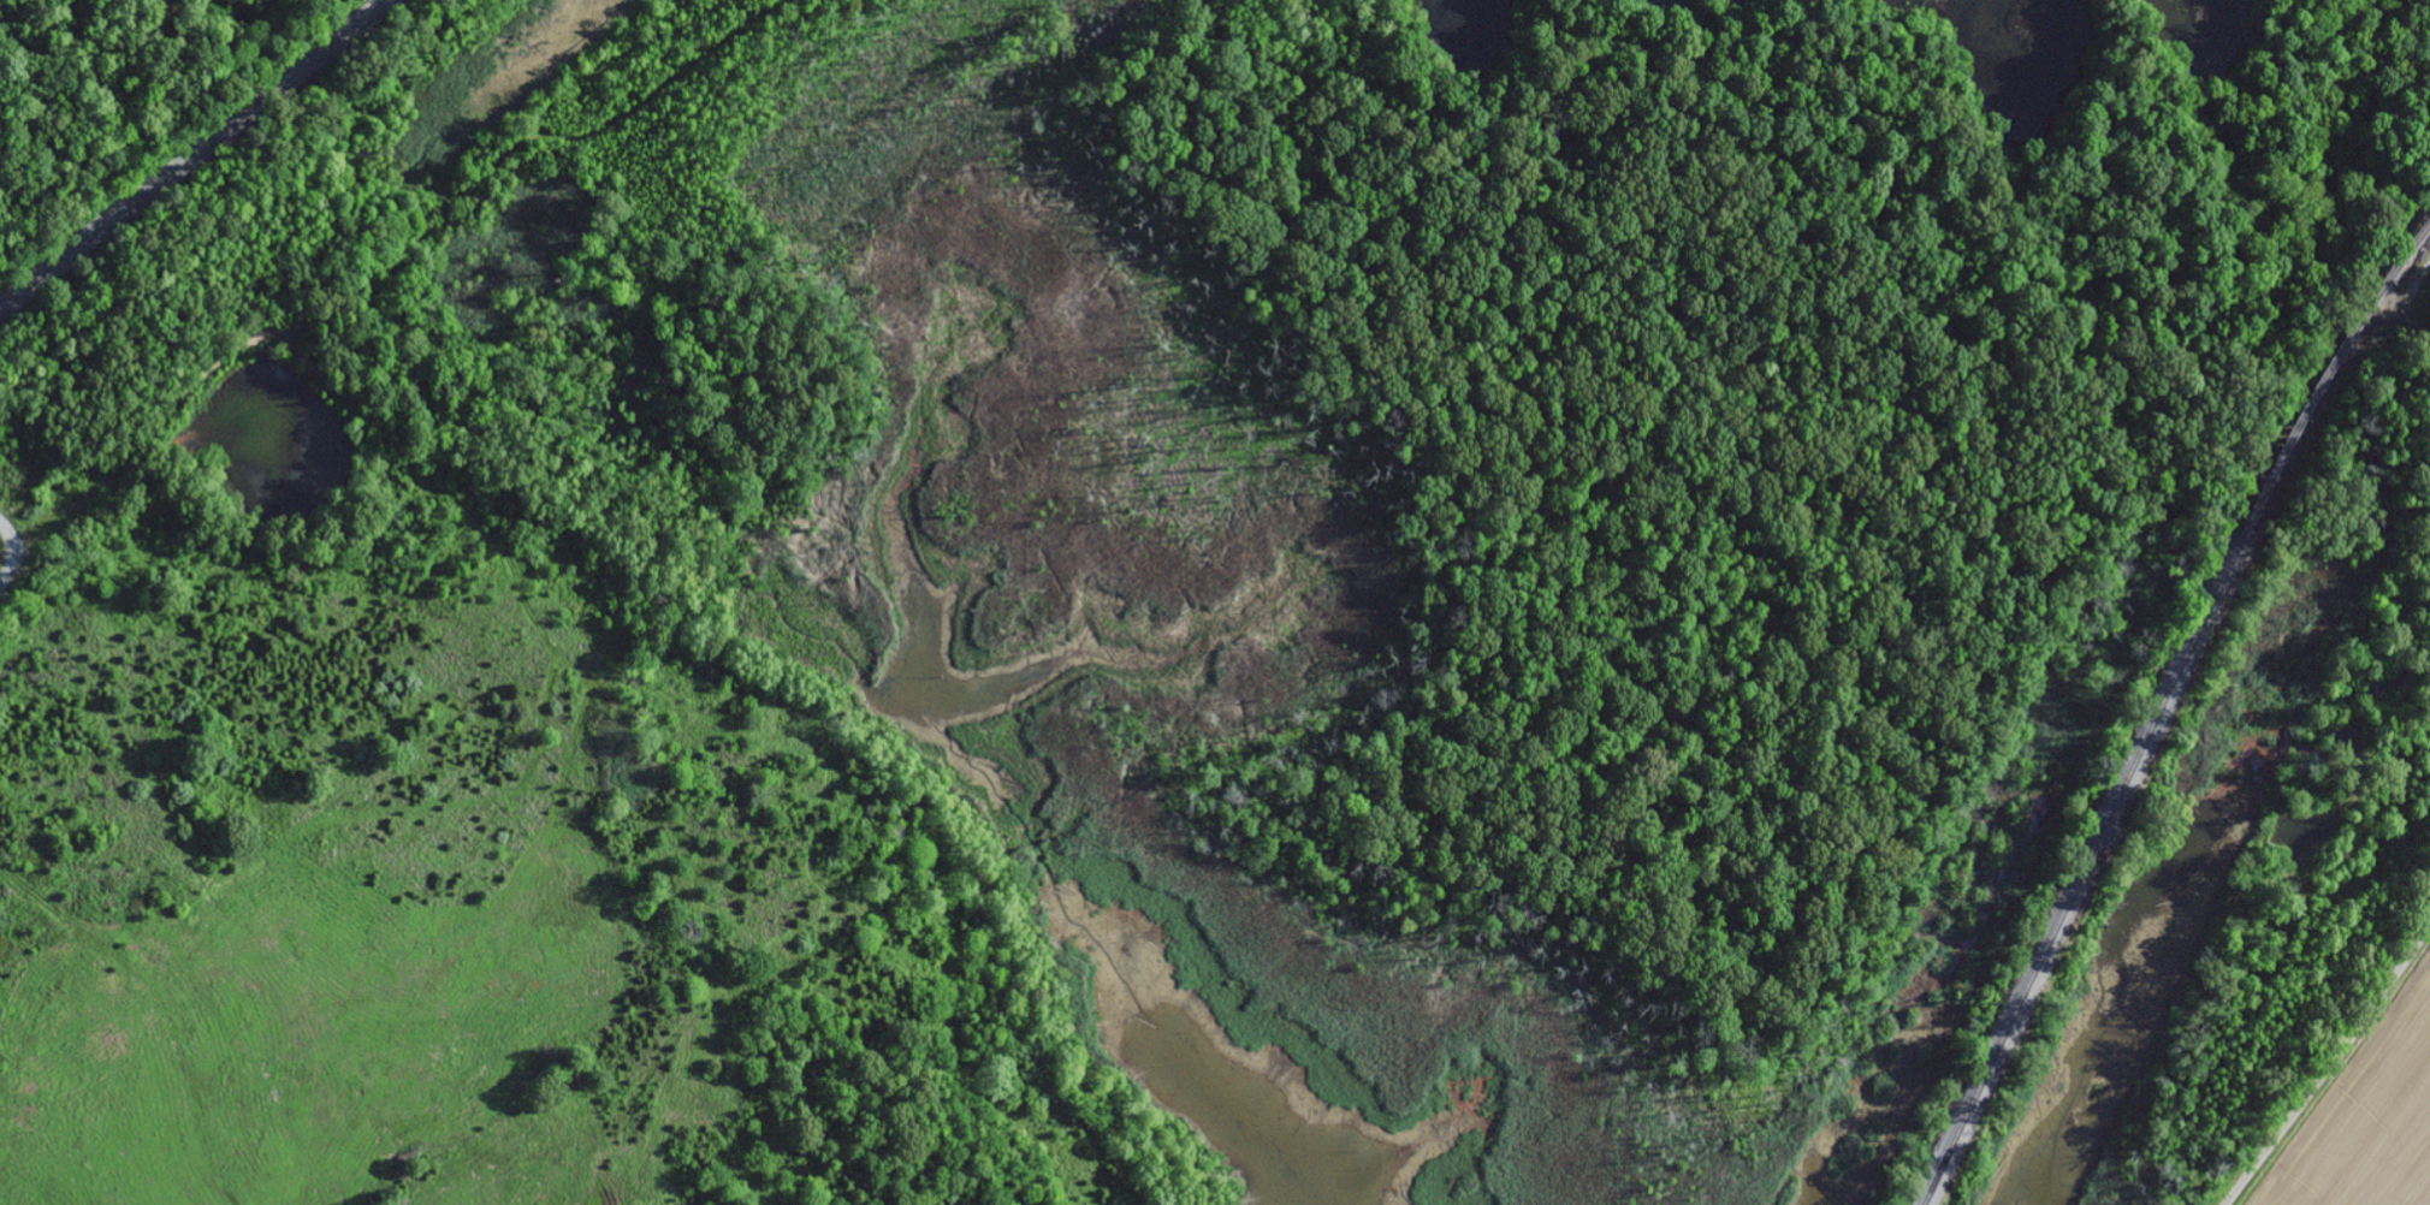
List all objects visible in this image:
road: (192, 153)
railway: (2419, 230)
railway: (2155, 717)
road: (2327, 1059)

